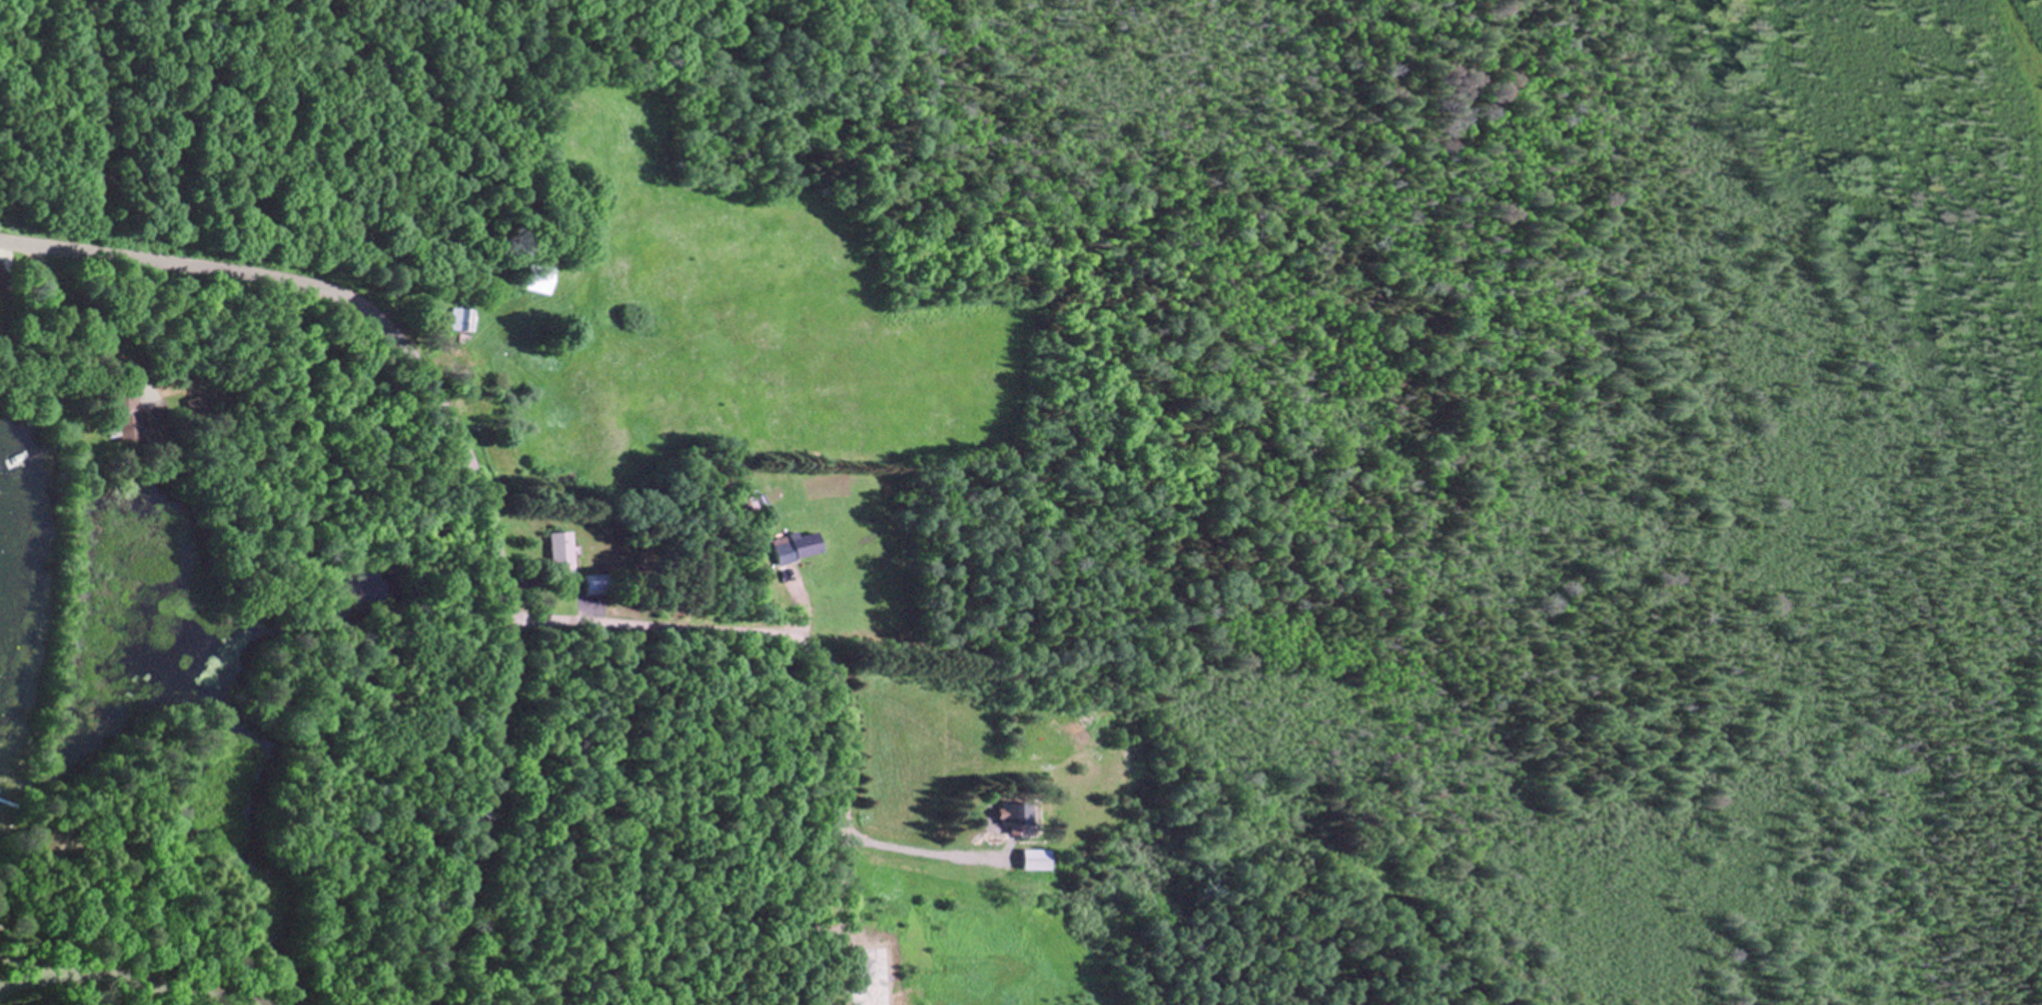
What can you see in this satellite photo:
park: (211, 127)
building: (534, 277)
building: (457, 321)
building: (194, 407)
building: (122, 411)
road: (470, 461)
building: (799, 546)
building: (558, 560)
road: (786, 633)
building: (1009, 816)
building: (52, 835)
building: (1032, 858)
road: (137, 980)

